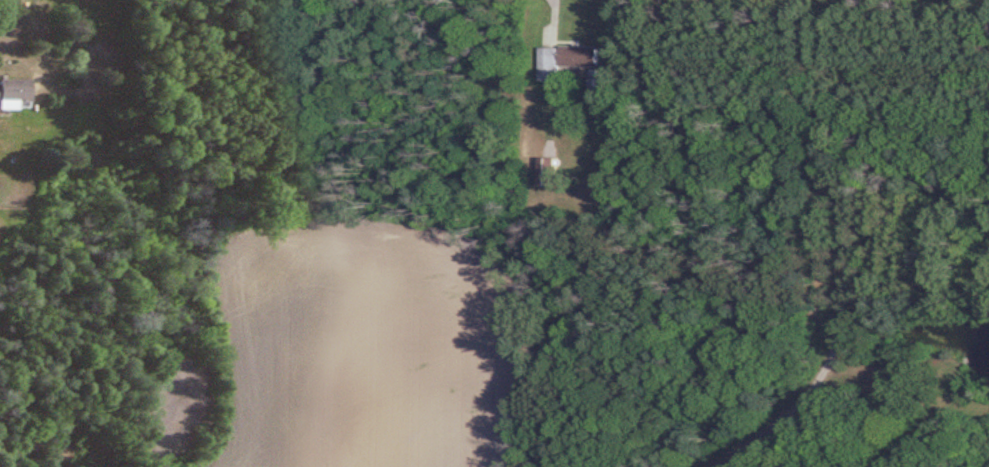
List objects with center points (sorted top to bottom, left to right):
building: (565, 61)
building: (14, 91)

